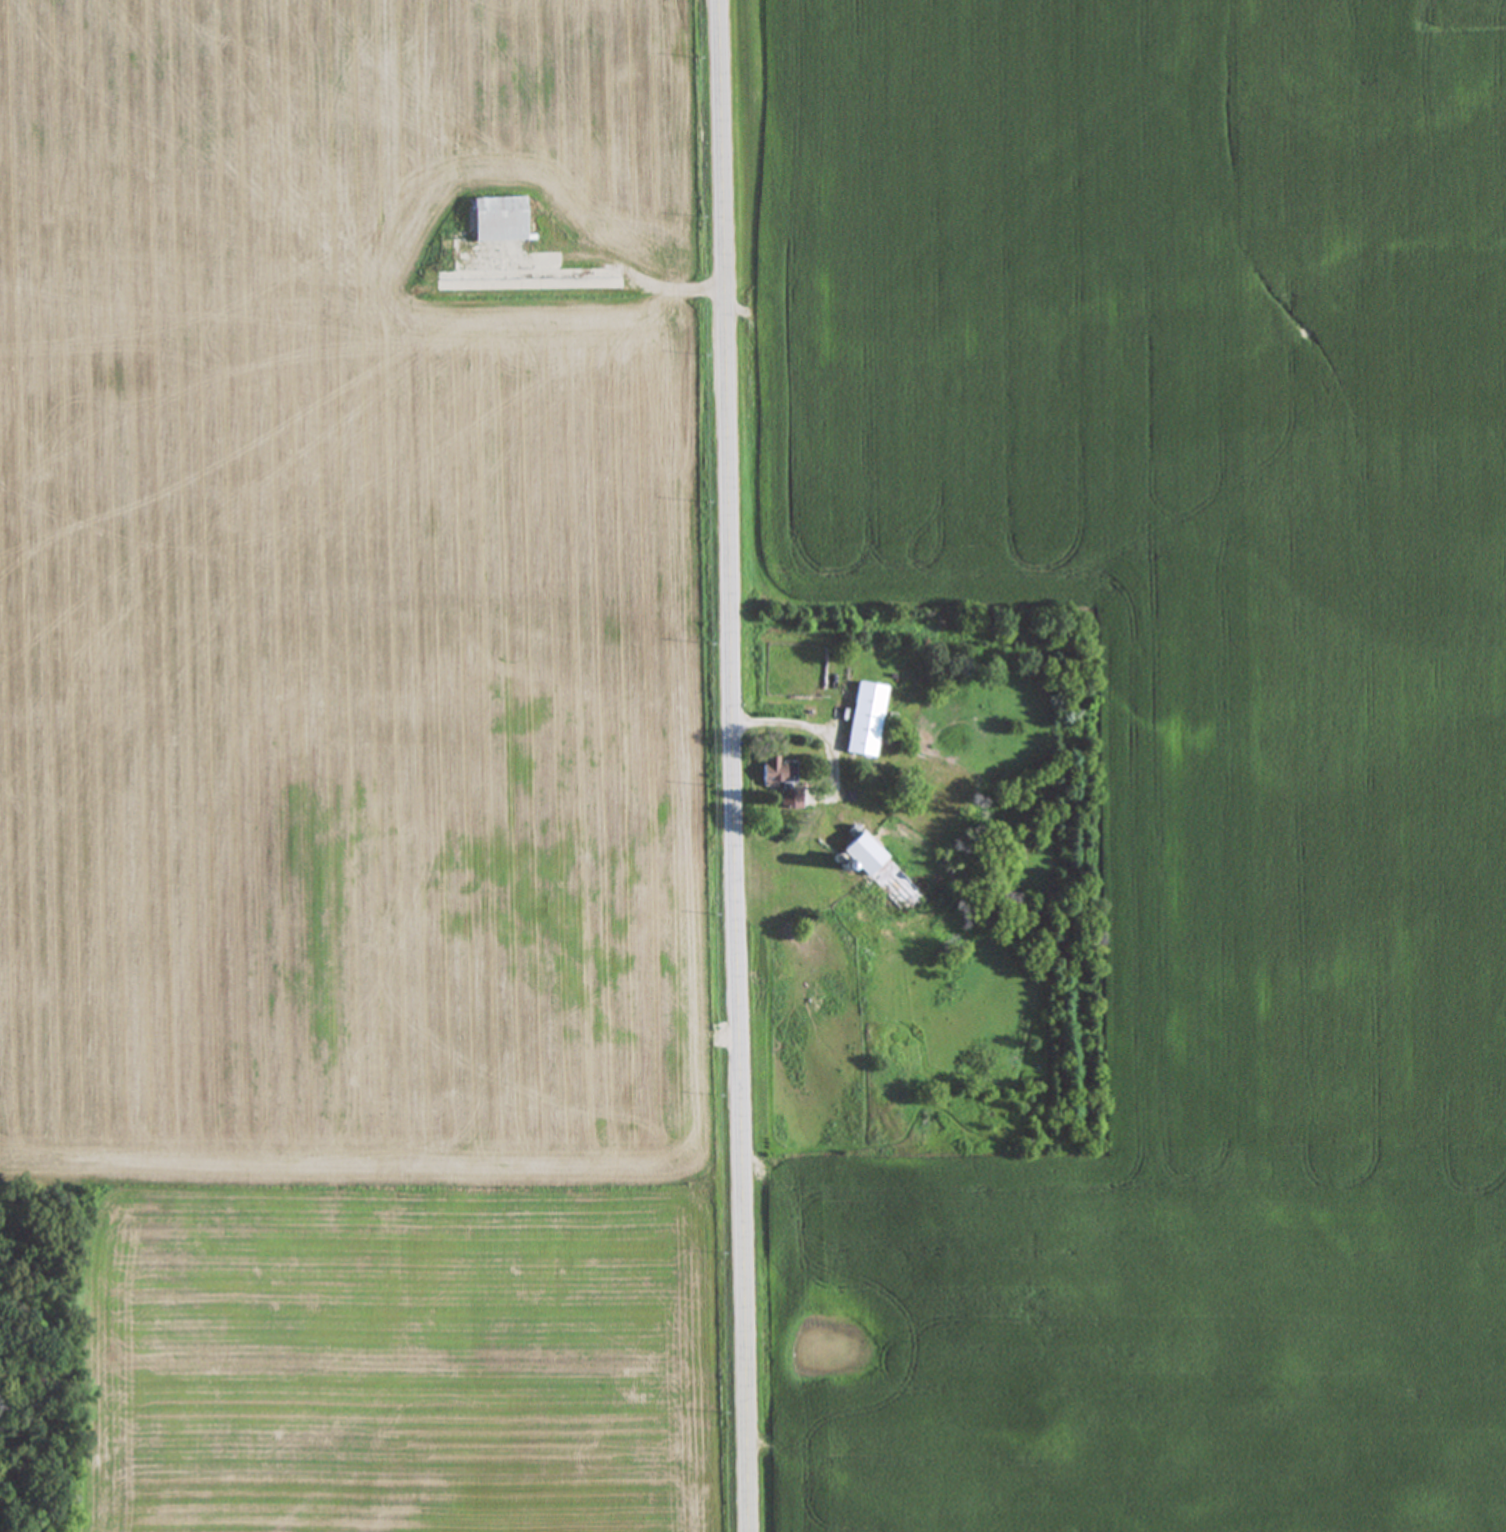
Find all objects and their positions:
building: (499, 219)
building: (867, 721)
road: (807, 722)
road: (734, 765)
building: (779, 773)
building: (792, 801)
building: (883, 875)

